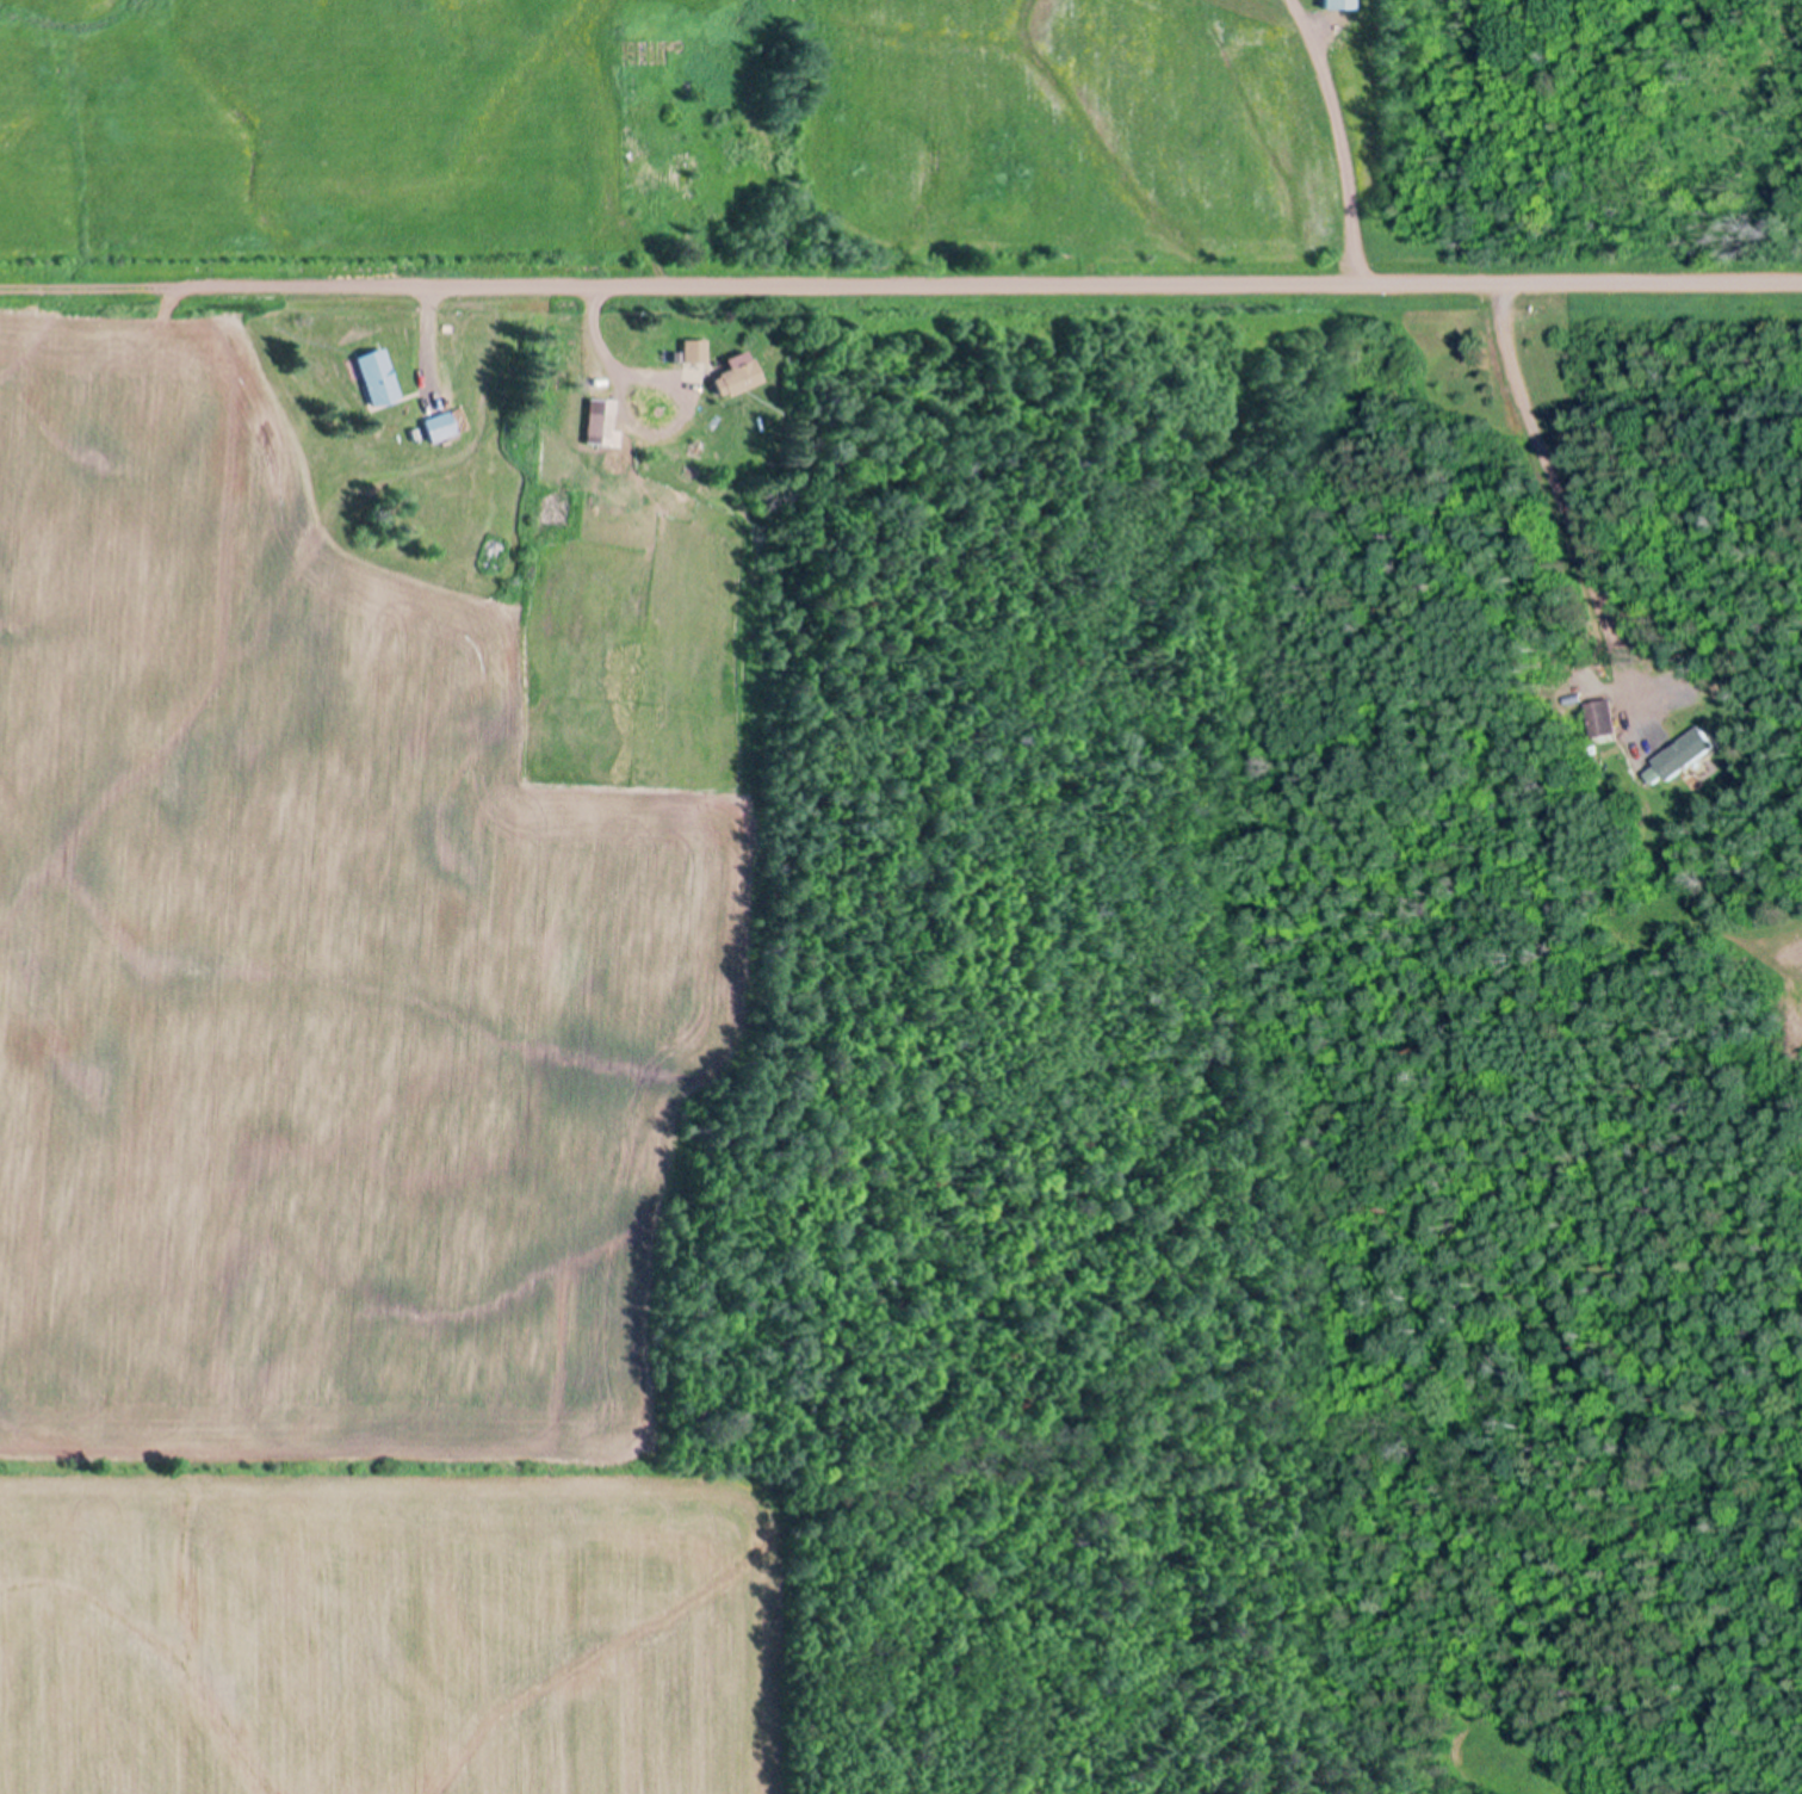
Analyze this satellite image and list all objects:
building: (1338, 4)
road: (900, 266)
building: (698, 349)
building: (739, 375)
building: (378, 378)
building: (601, 423)
building: (442, 426)
building: (1602, 716)
building: (1678, 754)
building: (1665, 761)

